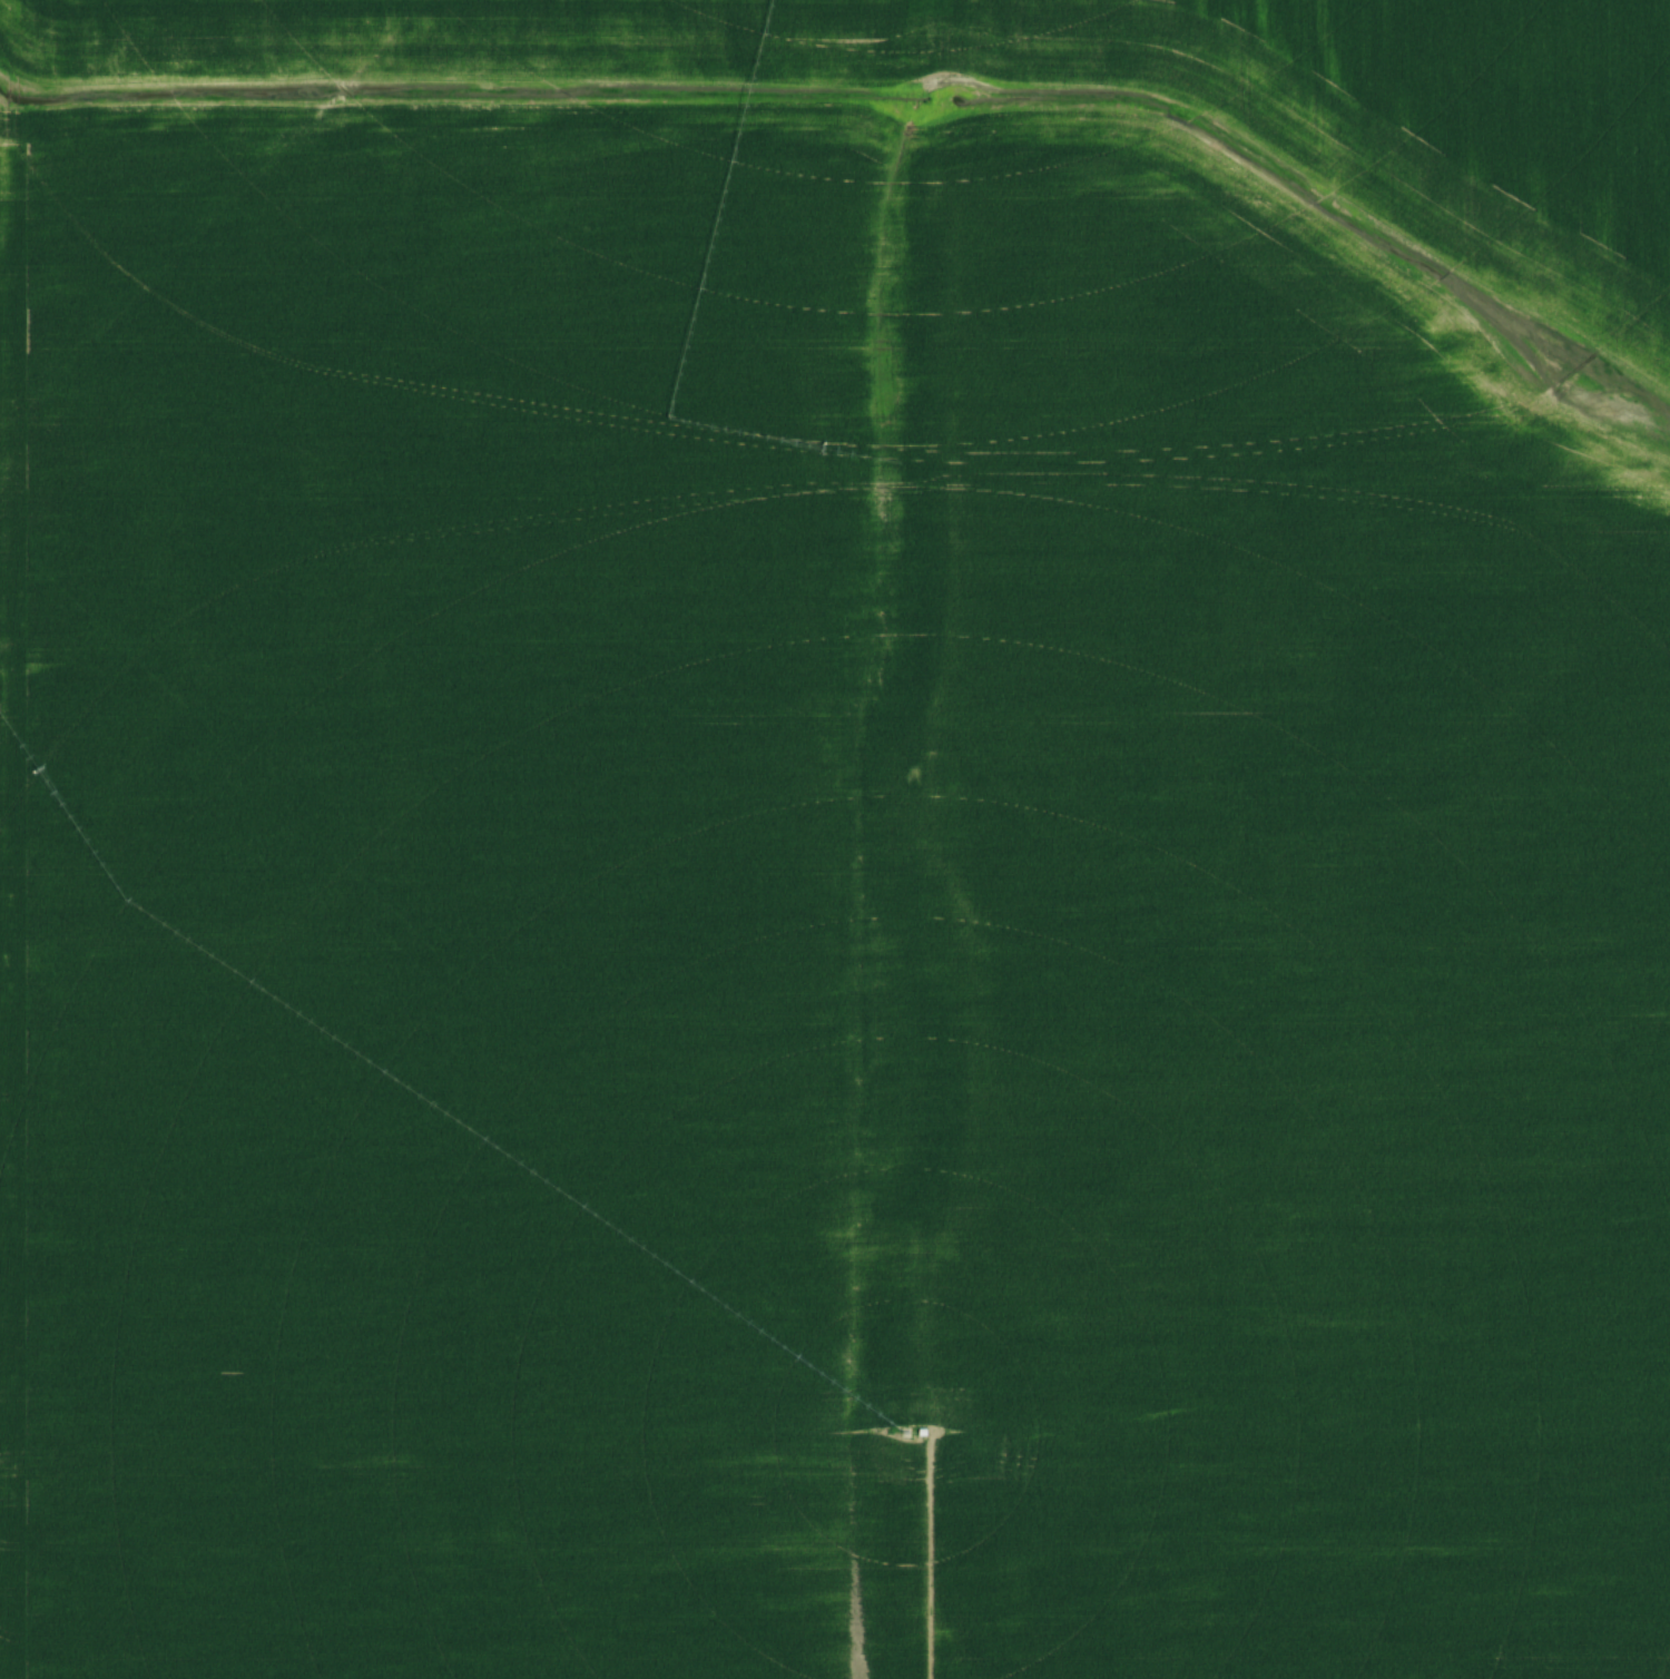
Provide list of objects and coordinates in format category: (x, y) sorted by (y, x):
building: (901, 1422)

